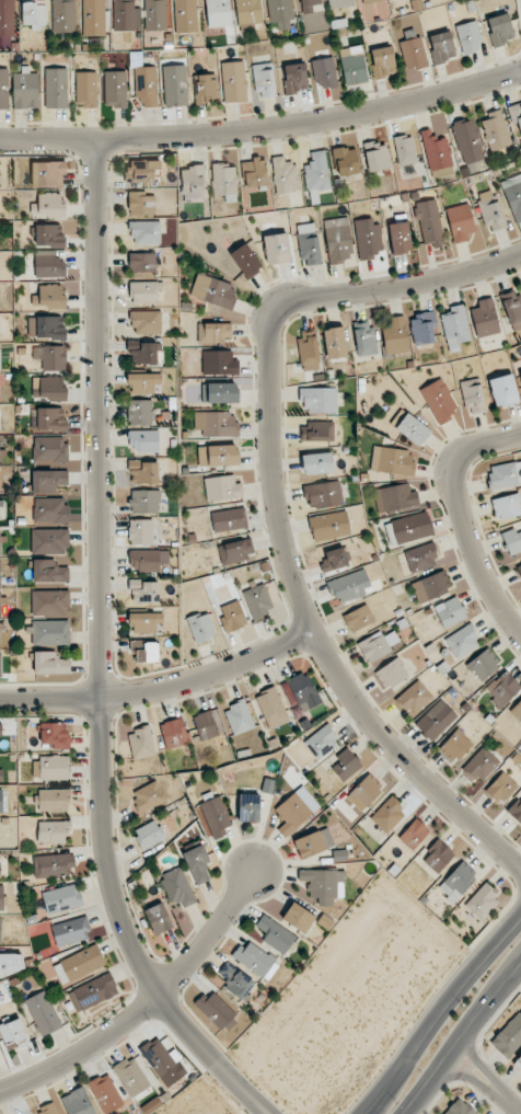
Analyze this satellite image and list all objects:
building: (369, 1)
building: (339, 3)
building: (310, 5)
building: (279, 10)
building: (248, 12)
building: (34, 13)
building: (218, 13)
building: (155, 14)
building: (63, 15)
building: (126, 15)
building: (185, 15)
building: (93, 18)
building: (7, 23)
building: (500, 28)
building: (470, 36)
building: (442, 46)
building: (413, 53)
building: (383, 61)
building: (352, 65)
building: (325, 72)
building: (294, 78)
building: (264, 80)
building: (234, 81)
building: (146, 85)
building: (175, 85)
building: (56, 88)
building: (3, 89)
building: (85, 89)
building: (115, 89)
building: (206, 89)
building: (25, 90)
building: (516, 115)
building: (496, 130)
road: (264, 134)
building: (468, 141)
building: (405, 150)
building: (436, 151)
building: (377, 156)
building: (346, 161)
building: (139, 171)
building: (254, 173)
building: (317, 173)
building: (48, 174)
building: (285, 175)
building: (193, 180)
building: (224, 181)
building: (513, 195)
building: (141, 203)
building: (48, 205)
building: (490, 210)
building: (429, 222)
building: (460, 222)
building: (146, 232)
building: (49, 236)
building: (367, 238)
building: (400, 238)
building: (338, 240)
building: (309, 244)
building: (277, 249)
building: (245, 260)
building: (142, 262)
building: (47, 263)
building: (213, 291)
building: (146, 292)
building: (49, 297)
building: (512, 308)
building: (485, 318)
building: (147, 322)
building: (454, 325)
building: (46, 326)
building: (424, 329)
building: (215, 332)
building: (394, 335)
building: (364, 338)
building: (335, 343)
building: (308, 351)
building: (146, 353)
building: (54, 357)
building: (0, 358)
building: (219, 363)
building: (520, 374)
building: (143, 382)
building: (48, 389)
building: (503, 390)
building: (220, 393)
building: (473, 395)
building: (317, 400)
building: (439, 401)
building: (139, 412)
building: (48, 420)
building: (217, 424)
building: (413, 429)
building: (316, 432)
building: (143, 440)
building: (49, 449)
building: (1, 453)
building: (218, 456)
building: (392, 460)
building: (316, 463)
building: (143, 472)
building: (505, 474)
building: (48, 481)
building: (222, 489)
building: (323, 494)
building: (395, 497)
building: (0, 501)
building: (144, 501)
building: (506, 507)
road: (280, 508)
building: (50, 509)
building: (229, 519)
road: (466, 520)
building: (329, 526)
building: (408, 528)
building: (140, 531)
building: (49, 541)
building: (512, 541)
building: (0, 544)
building: (235, 551)
building: (420, 558)
building: (143, 560)
building: (335, 560)
building: (519, 569)
building: (49, 571)
building: (0, 573)
building: (349, 586)
building: (431, 586)
building: (144, 592)
building: (257, 601)
building: (50, 602)
building: (0, 604)
building: (451, 612)
building: (233, 617)
building: (359, 618)
road: (101, 622)
building: (146, 622)
building: (201, 627)
building: (49, 632)
building: (0, 633)
building: (462, 641)
building: (378, 645)
building: (144, 651)
building: (50, 663)
building: (0, 664)
building: (484, 664)
building: (391, 674)
road: (162, 687)
building: (503, 688)
building: (303, 691)
building: (414, 698)
building: (271, 708)
building: (517, 710)
building: (239, 717)
building: (436, 720)
building: (207, 725)
building: (0, 730)
building: (174, 733)
building: (55, 734)
building: (321, 742)
building: (141, 743)
building: (454, 746)
building: (346, 765)
building: (478, 765)
building: (50, 768)
building: (1, 774)
building: (500, 788)
building: (366, 791)
building: (149, 797)
building: (54, 799)
building: (1, 801)
building: (248, 807)
building: (516, 809)
building: (292, 813)
building: (387, 815)
building: (216, 816)
building: (53, 832)
building: (414, 834)
building: (149, 835)
building: (313, 842)
building: (437, 854)
building: (339, 855)
building: (198, 864)
building: (54, 865)
building: (458, 881)
building: (324, 884)
building: (177, 886)
building: (1, 897)
building: (61, 898)
building: (482, 903)
building: (298, 917)
building: (158, 918)
building: (0, 930)
building: (71, 930)
building: (275, 934)
building: (256, 960)
building: (8, 964)
building: (79, 964)
building: (239, 984)
building: (93, 992)
road: (143, 1003)
road: (439, 1009)
building: (216, 1010)
building: (43, 1013)
building: (13, 1033)
building: (508, 1036)
road: (463, 1037)
building: (163, 1058)
building: (518, 1061)
building: (131, 1076)
road: (487, 1081)
road: (247, 1090)
building: (105, 1093)
building: (78, 1102)
building: (459, 1107)
building: (48, 1109)

